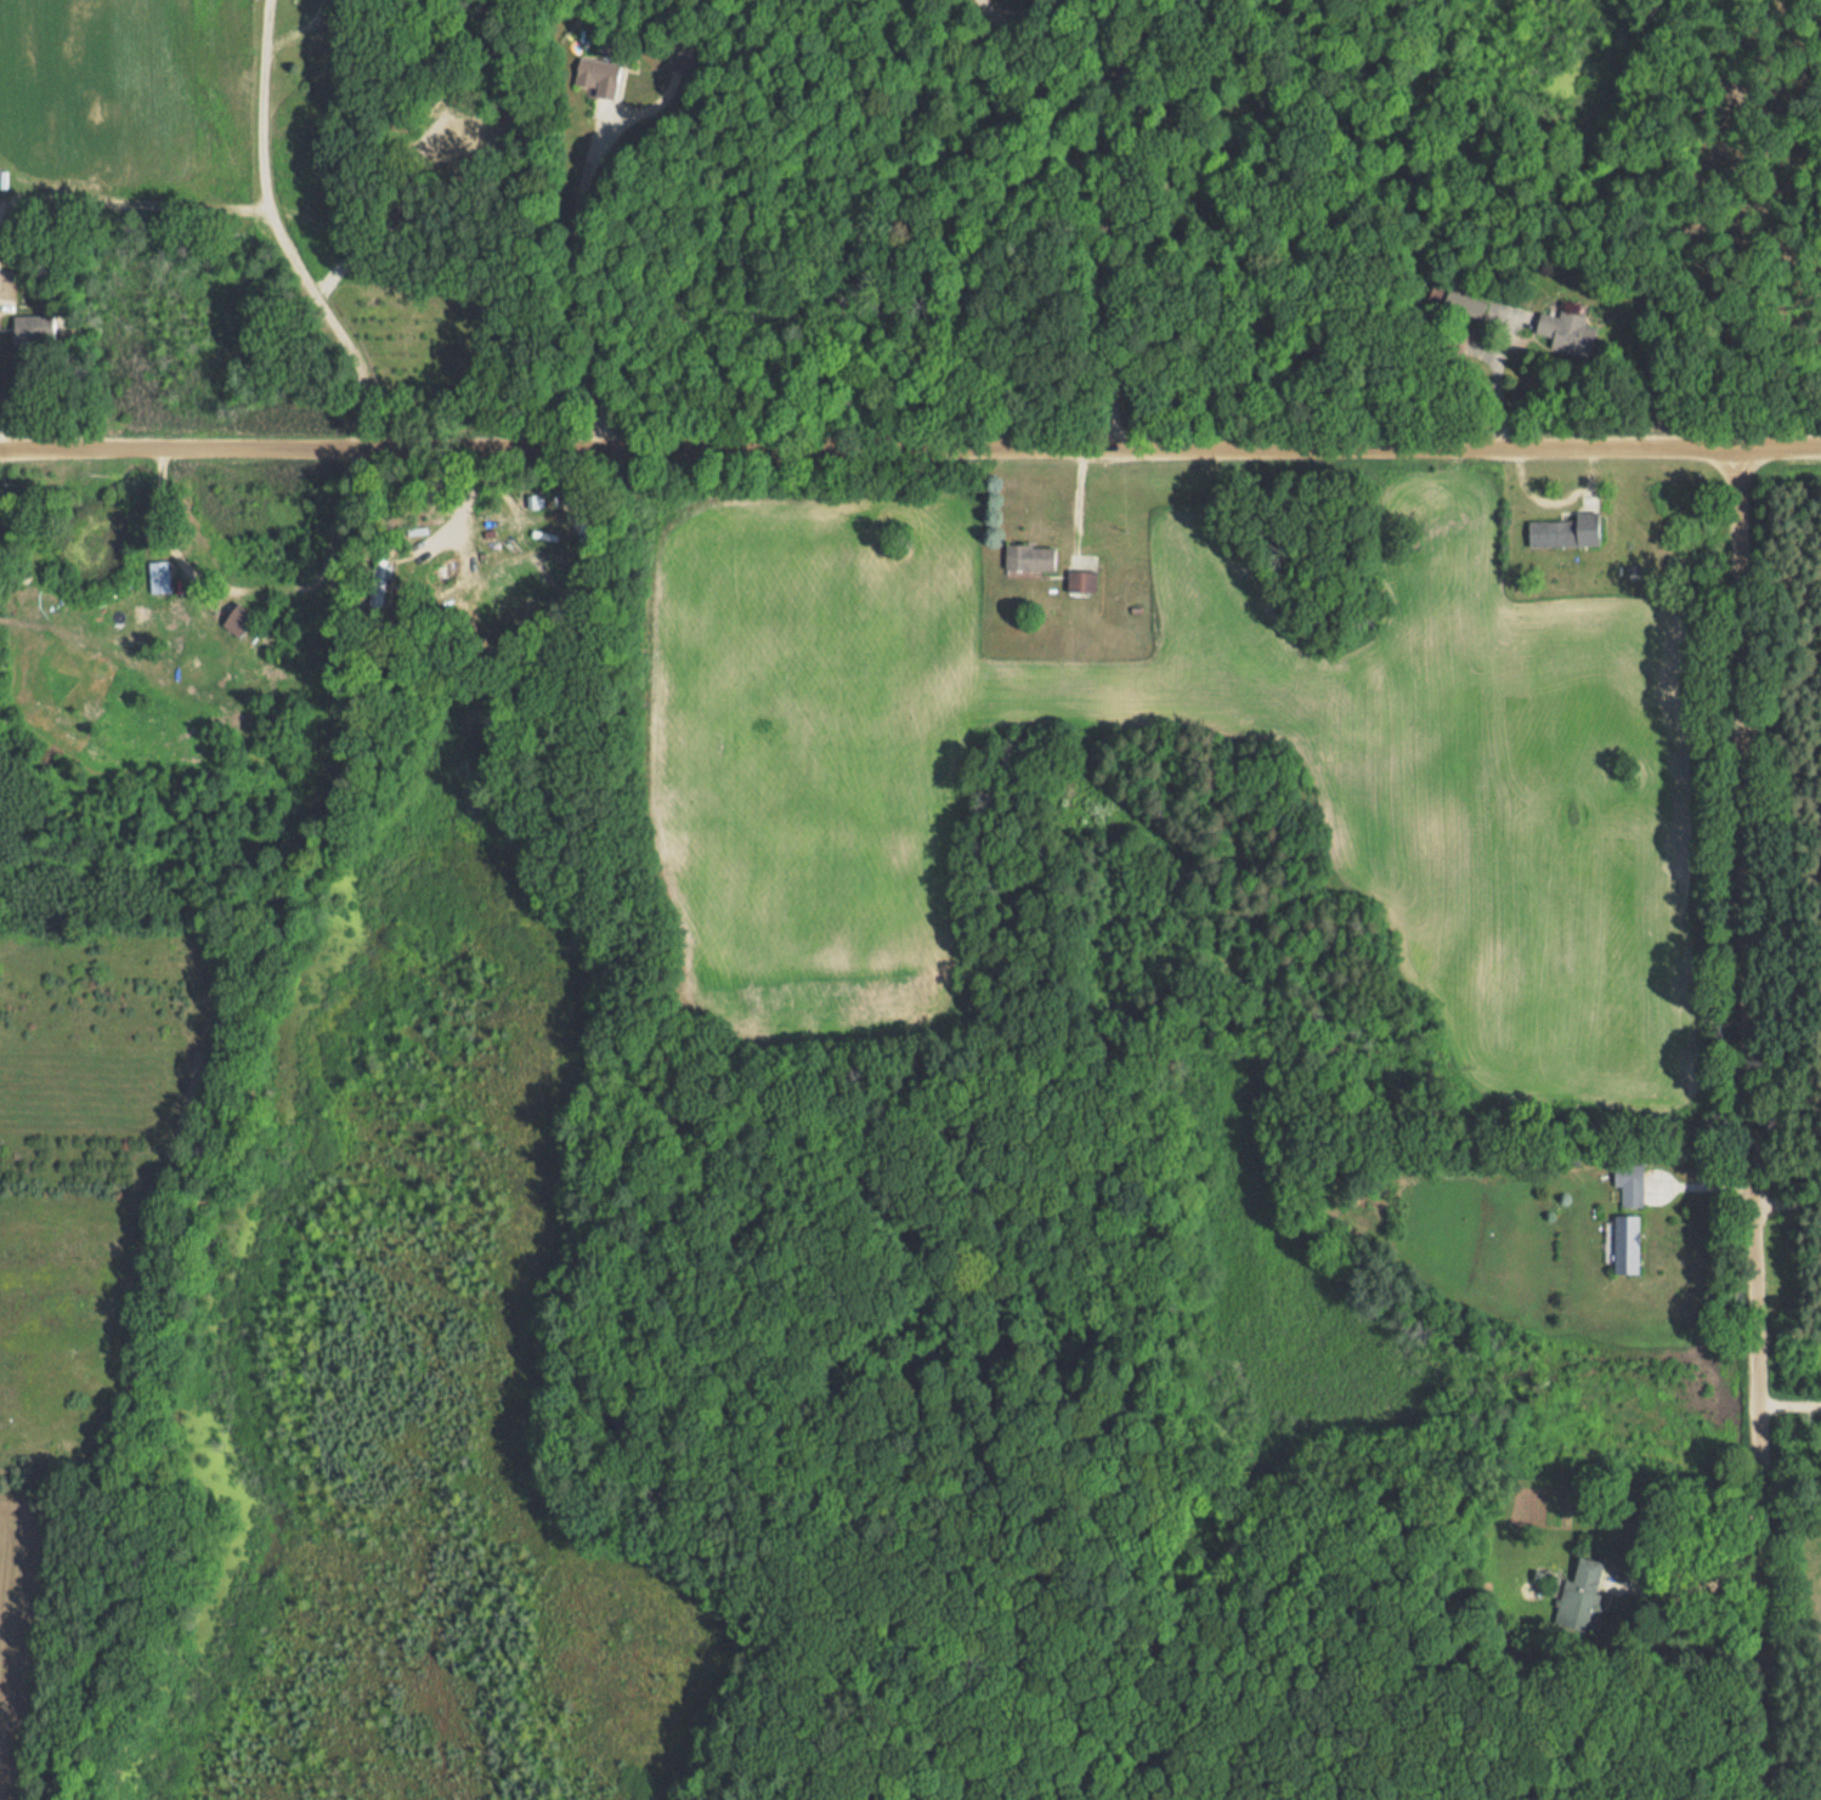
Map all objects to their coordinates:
road: (267, 24)
road: (299, 28)
building: (596, 77)
road: (132, 191)
road: (1097, 208)
road: (290, 255)
road: (567, 283)
building: (1465, 302)
building: (35, 330)
building: (1566, 332)
road: (910, 447)
road: (462, 505)
building: (1565, 531)
building: (1029, 559)
road: (256, 582)
building: (1081, 582)
road: (1755, 1123)
building: (1629, 1183)
road: (1789, 1193)
building: (1625, 1244)
road: (1792, 1402)
road: (1696, 1524)
building: (1579, 1596)

